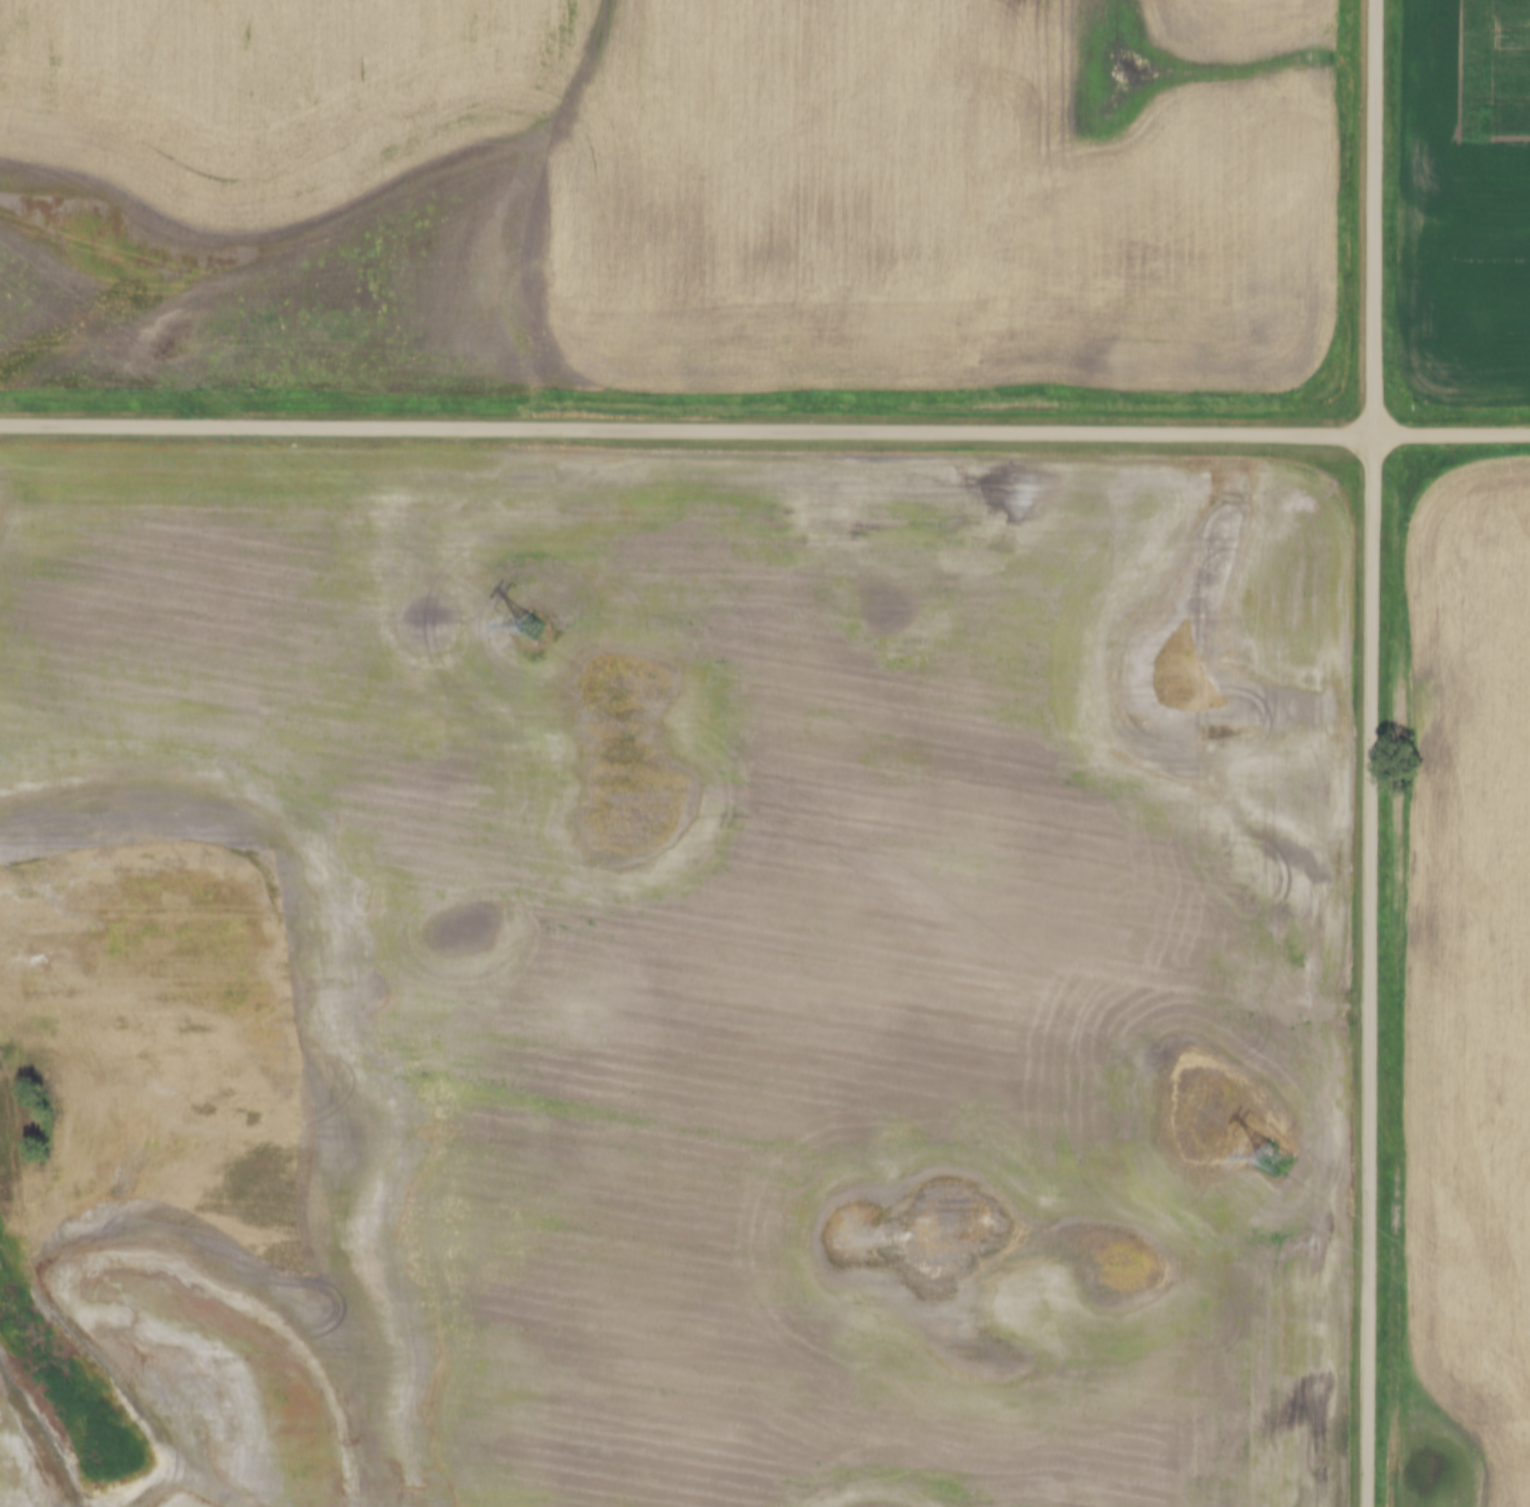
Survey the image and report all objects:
road: (764, 429)
power tower: (535, 625)
road: (1373, 753)
power tower: (1275, 1155)

